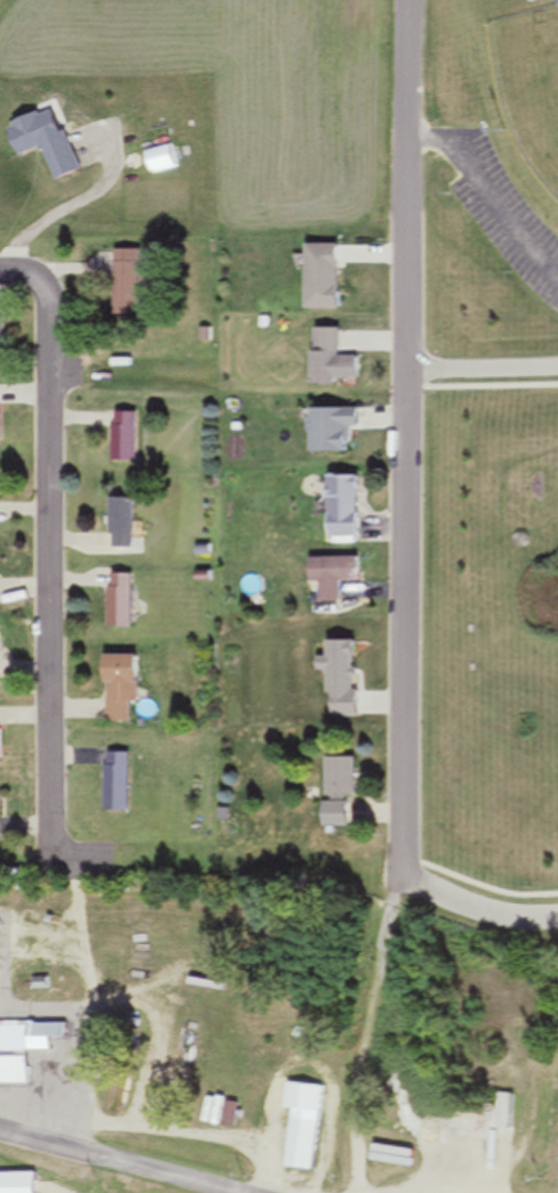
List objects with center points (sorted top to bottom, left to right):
building: (52, 142)
building: (162, 159)
road: (485, 203)
road: (23, 274)
building: (130, 277)
building: (328, 277)
building: (335, 359)
road: (482, 365)
building: (1, 414)
building: (336, 430)
building: (127, 438)
road: (405, 439)
building: (2, 484)
building: (348, 506)
building: (126, 523)
building: (336, 576)
road: (46, 588)
building: (2, 589)
building: (124, 601)
building: (1, 643)
building: (126, 688)
building: (1, 742)
building: (120, 784)
building: (344, 792)
building: (1, 812)
road: (477, 905)
building: (0, 943)
building: (17, 1054)
building: (511, 1105)
building: (307, 1124)
road: (116, 1162)
building: (21, 1182)

